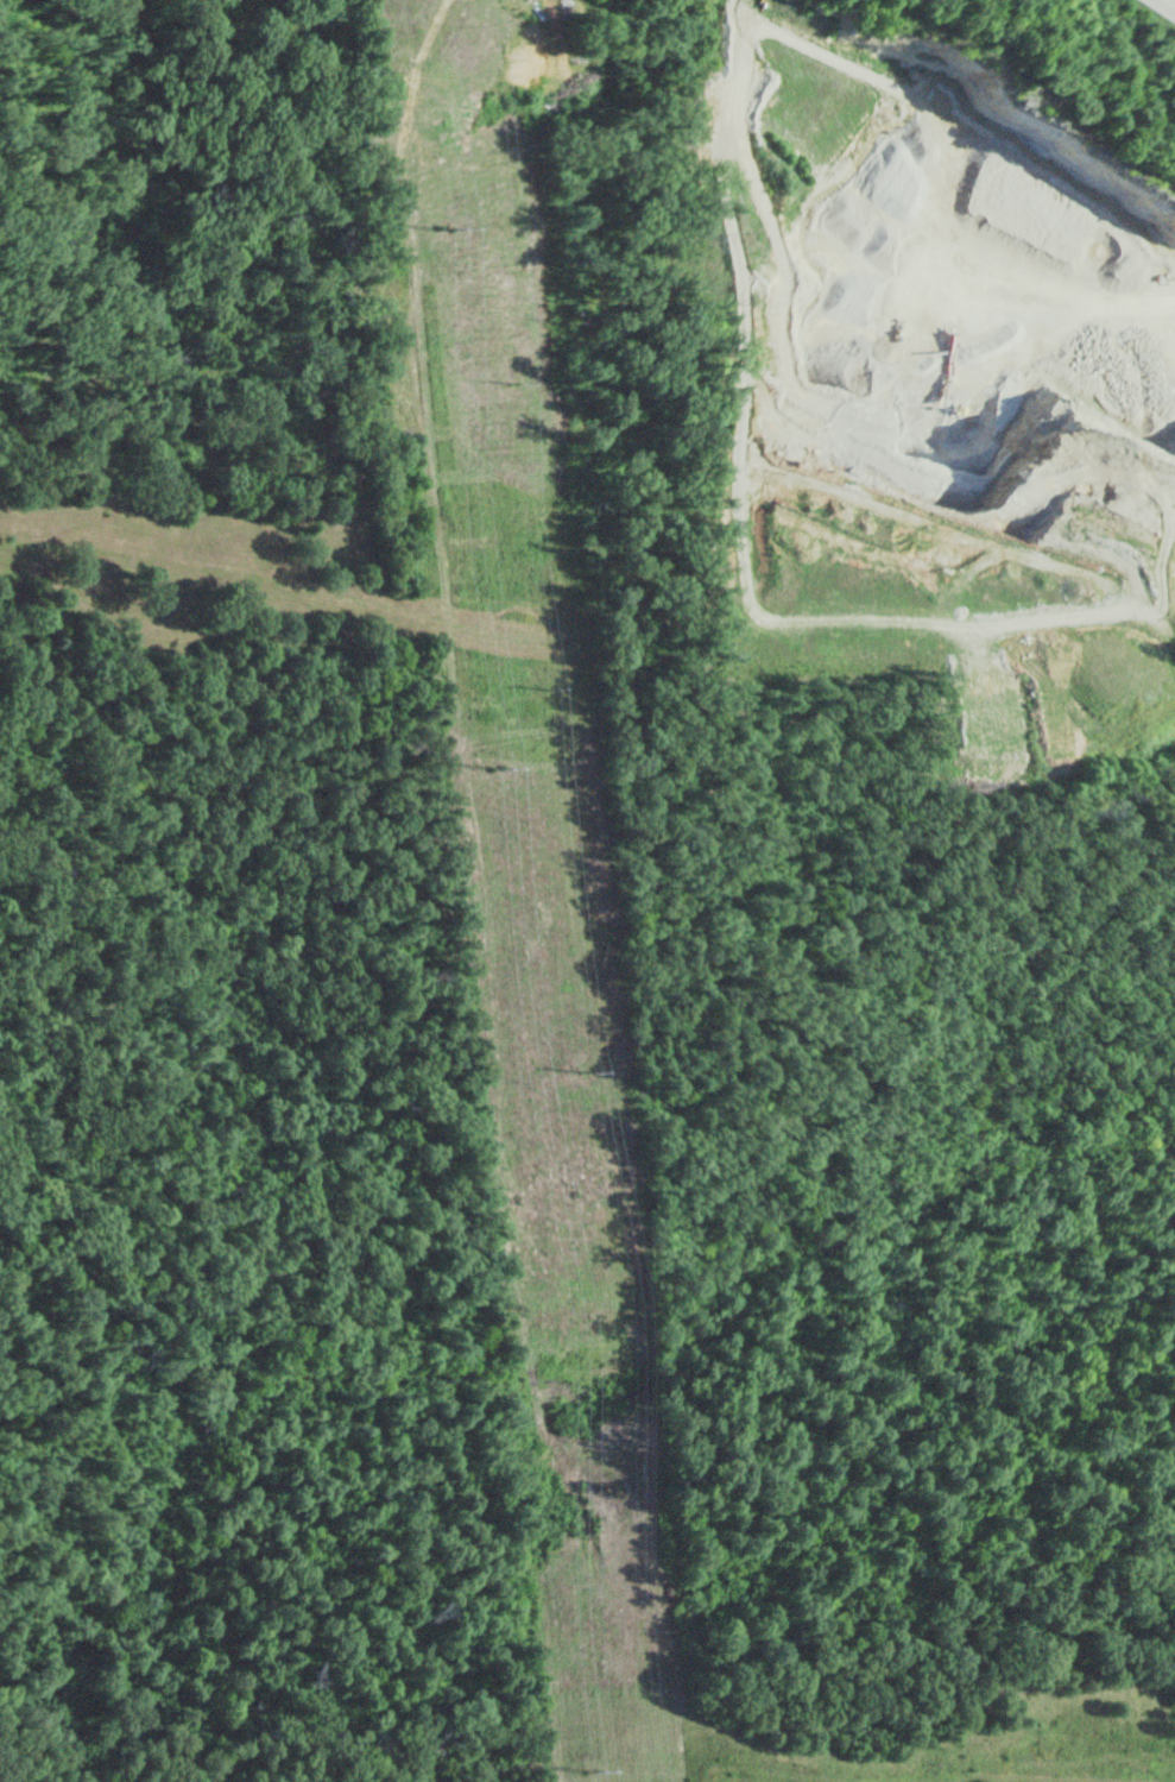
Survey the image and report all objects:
road: (1173, 1)
quarry: (939, 360)

